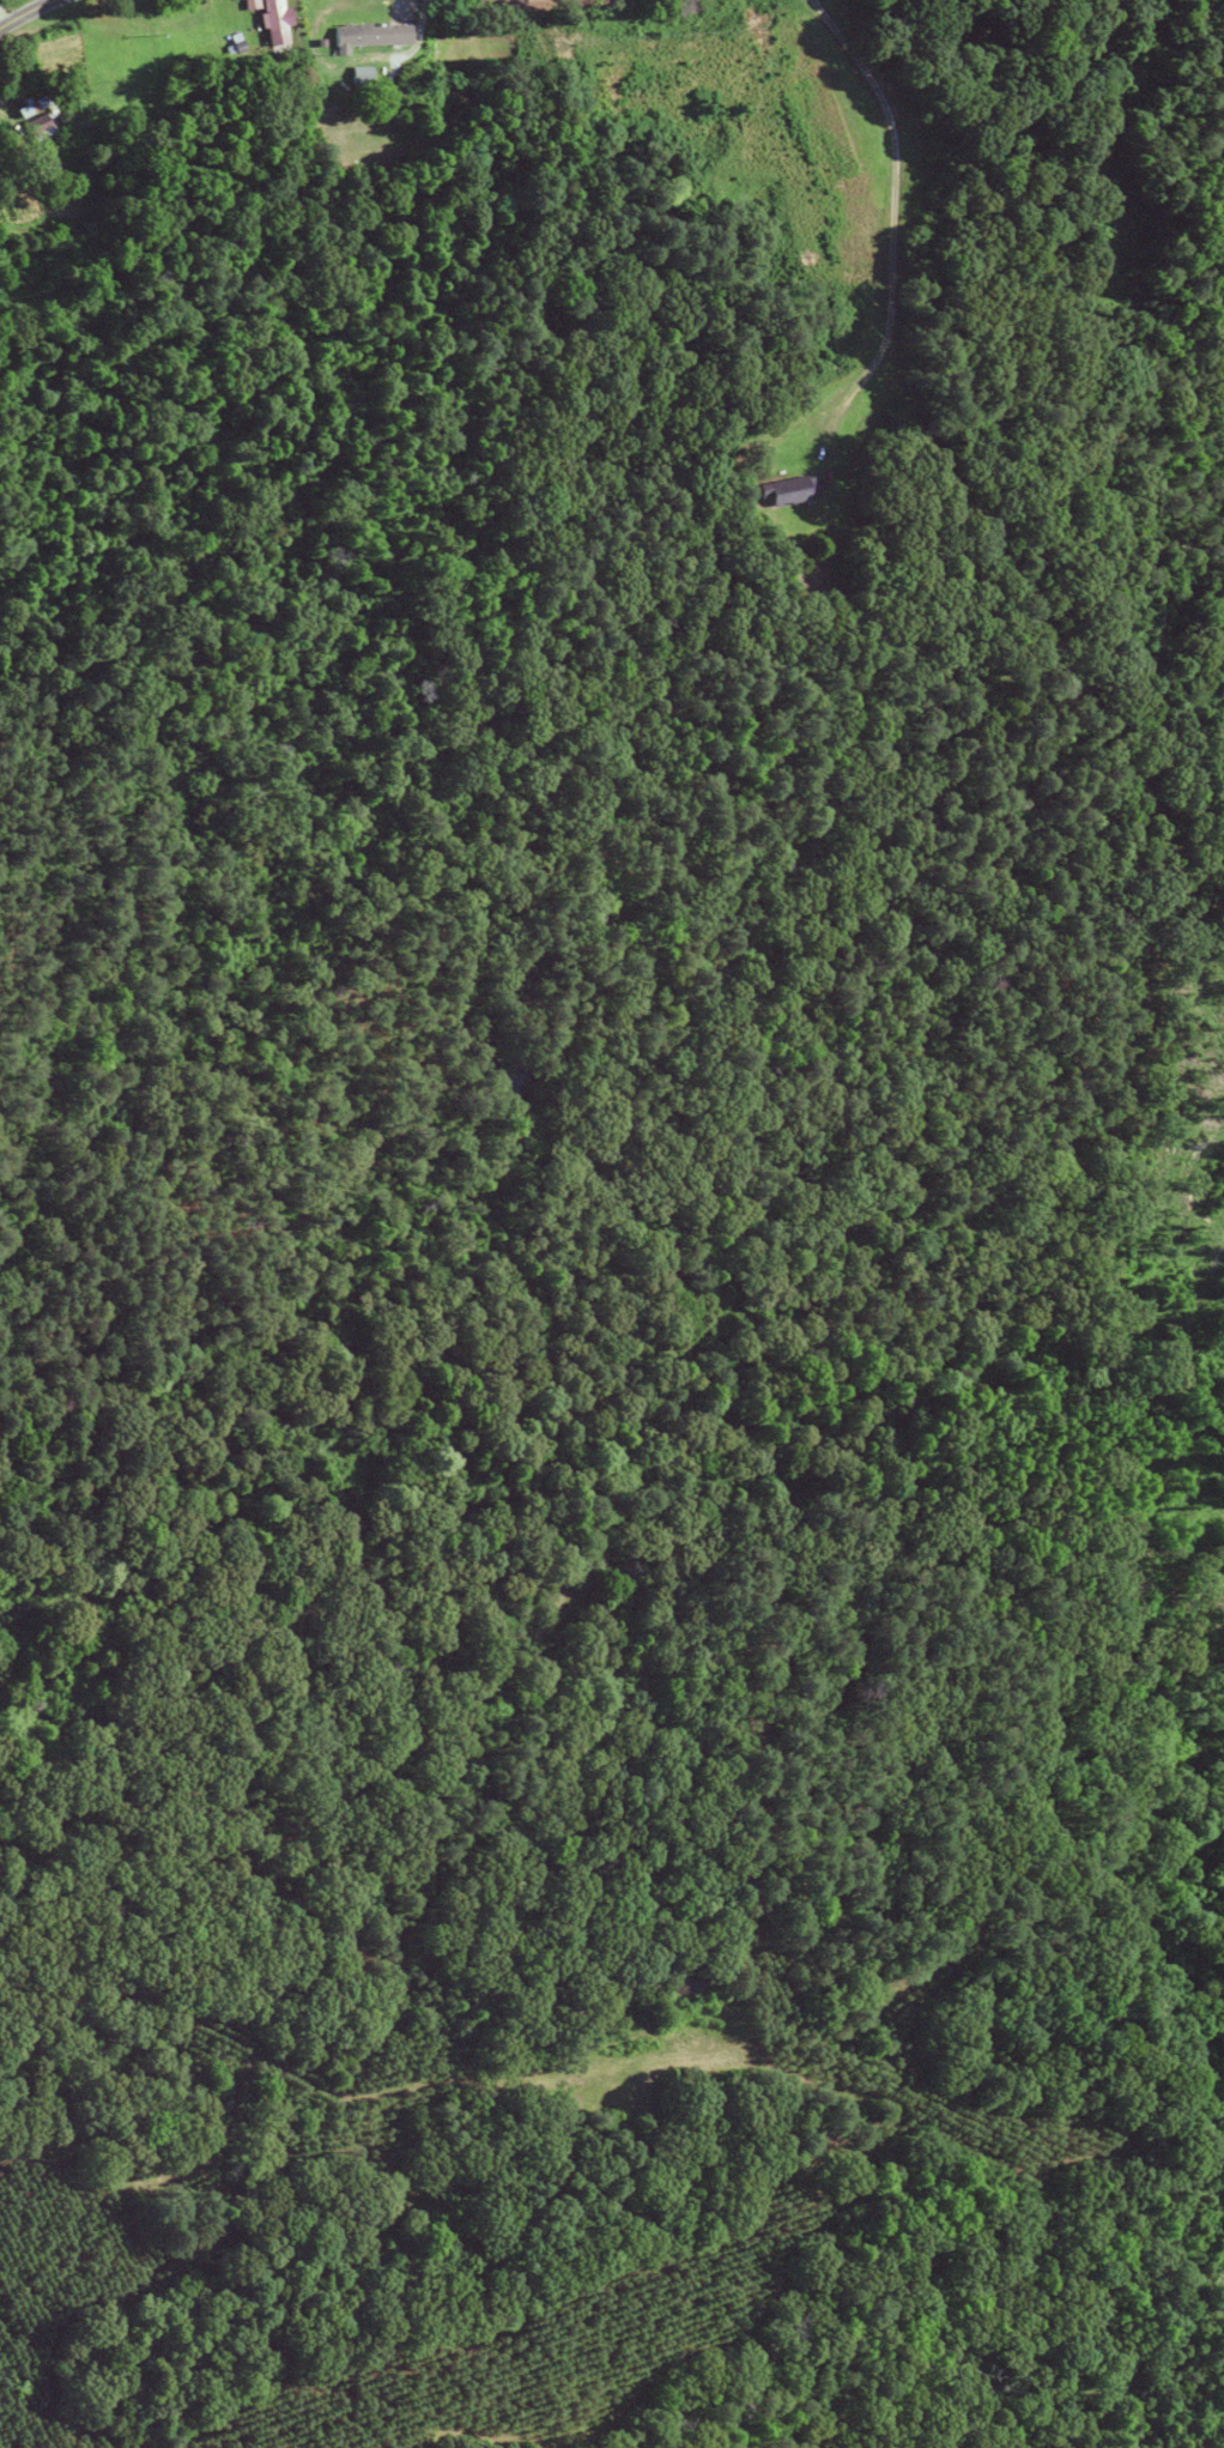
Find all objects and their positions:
road: (29, 13)
building: (369, 36)
building: (357, 75)
building: (35, 104)
building: (37, 131)
road: (893, 219)
building: (784, 491)

